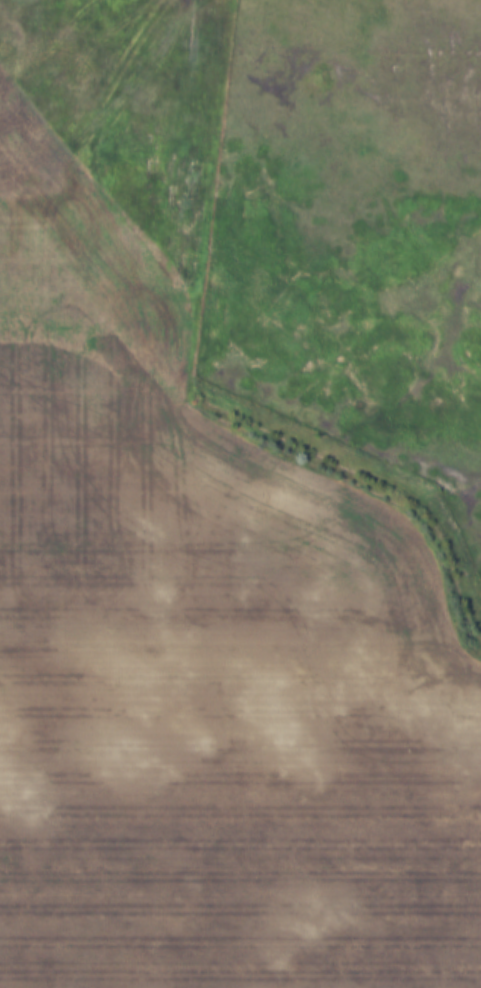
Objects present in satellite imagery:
building: (5, 804)
building: (21, 858)

